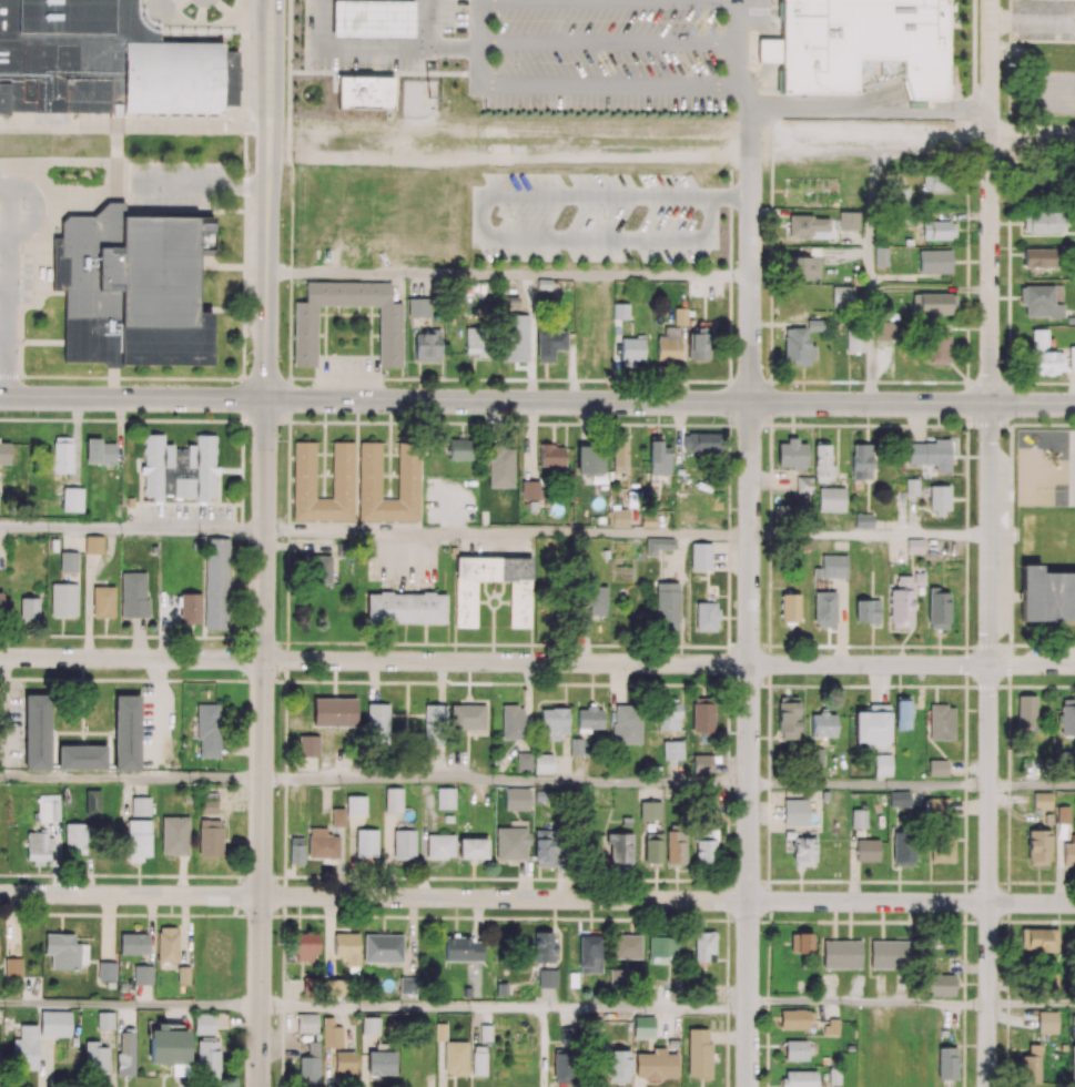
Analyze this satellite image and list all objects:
road: (616, 2)
building: (372, 19)
road: (739, 42)
road: (609, 44)
building: (865, 45)
road: (479, 49)
building: (783, 49)
parking lot: (612, 55)
building: (768, 57)
building: (105, 62)
road: (270, 62)
road: (618, 88)
road: (859, 88)
road: (952, 92)
building: (365, 93)
road: (876, 98)
road: (742, 101)
road: (844, 108)
road: (853, 112)
road: (973, 113)
street lamp: (296, 115)
road: (134, 124)
road: (1032, 133)
road: (116, 153)
road: (891, 155)
road: (124, 186)
parking lot: (178, 186)
road: (180, 186)
road: (4, 187)
road: (249, 187)
road: (729, 202)
road: (988, 202)
road: (39, 211)
road: (9, 213)
road: (480, 231)
road: (266, 261)
road: (508, 275)
parking lot: (19, 278)
road: (869, 280)
building: (135, 291)
road: (7, 316)
road: (132, 397)
road: (670, 402)
street lamp: (31, 415)
street lamp: (233, 417)
street lamp: (604, 419)
street lamp: (727, 421)
road: (132, 529)
road: (507, 534)
road: (870, 536)
street lamp: (278, 538)
road: (750, 599)
road: (131, 659)
road: (668, 663)
street lamp: (277, 678)
road: (262, 742)
road: (990, 745)
road: (131, 778)
road: (505, 781)
road: (869, 785)
road: (1032, 785)
street lamp: (274, 872)
road: (129, 894)
road: (667, 901)
street lamp: (760, 933)
road: (866, 1000)
road: (1031, 1003)
road: (129, 1004)
road: (503, 1007)

